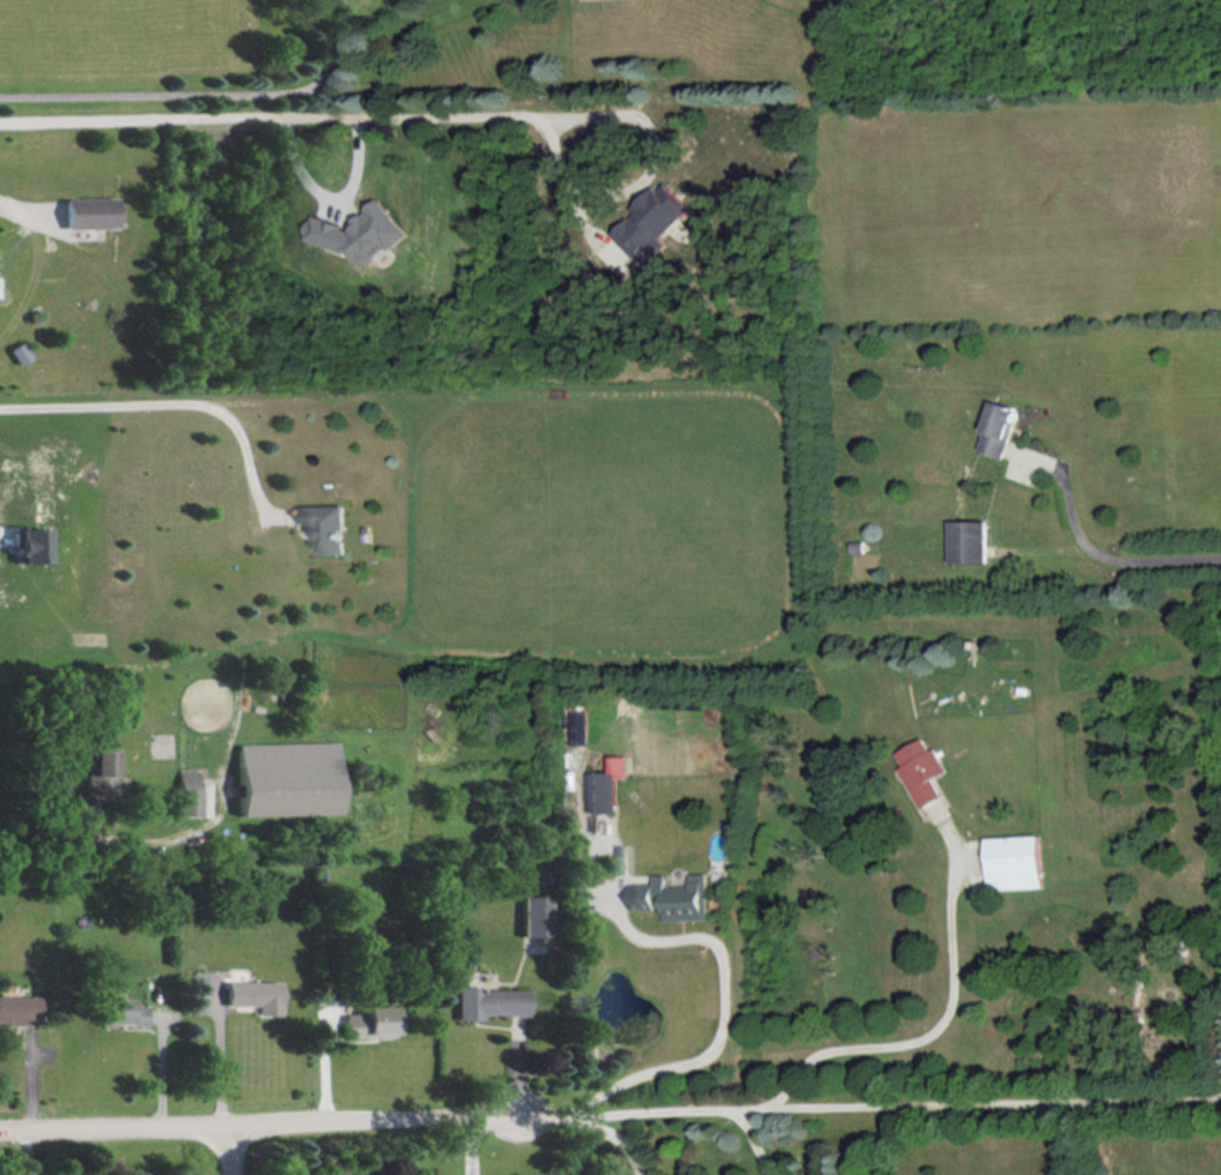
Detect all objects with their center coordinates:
road: (202, 90)
road: (265, 113)
road: (647, 166)
road: (340, 209)
building: (92, 211)
building: (653, 222)
building: (359, 232)
building: (22, 352)
road: (185, 401)
building: (999, 427)
building: (325, 524)
building: (968, 540)
road: (5, 548)
road: (1111, 554)
building: (580, 726)
building: (922, 769)
building: (98, 771)
building: (287, 777)
building: (606, 785)
building: (192, 792)
road: (46, 839)
building: (1016, 861)
building: (540, 871)
building: (674, 897)
building: (533, 915)
building: (256, 994)
building: (490, 1001)
road: (725, 1001)
building: (18, 1007)
building: (122, 1011)
building: (371, 1020)
road: (927, 1037)
road: (220, 1056)
road: (995, 1103)
road: (653, 1114)
road: (268, 1126)
road: (231, 1151)

